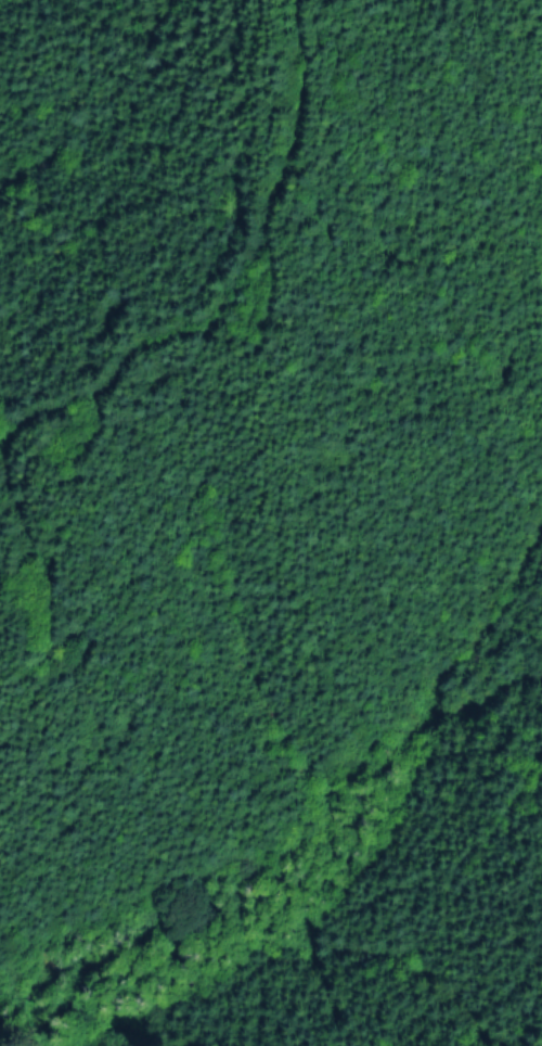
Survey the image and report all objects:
road: (162, 234)

